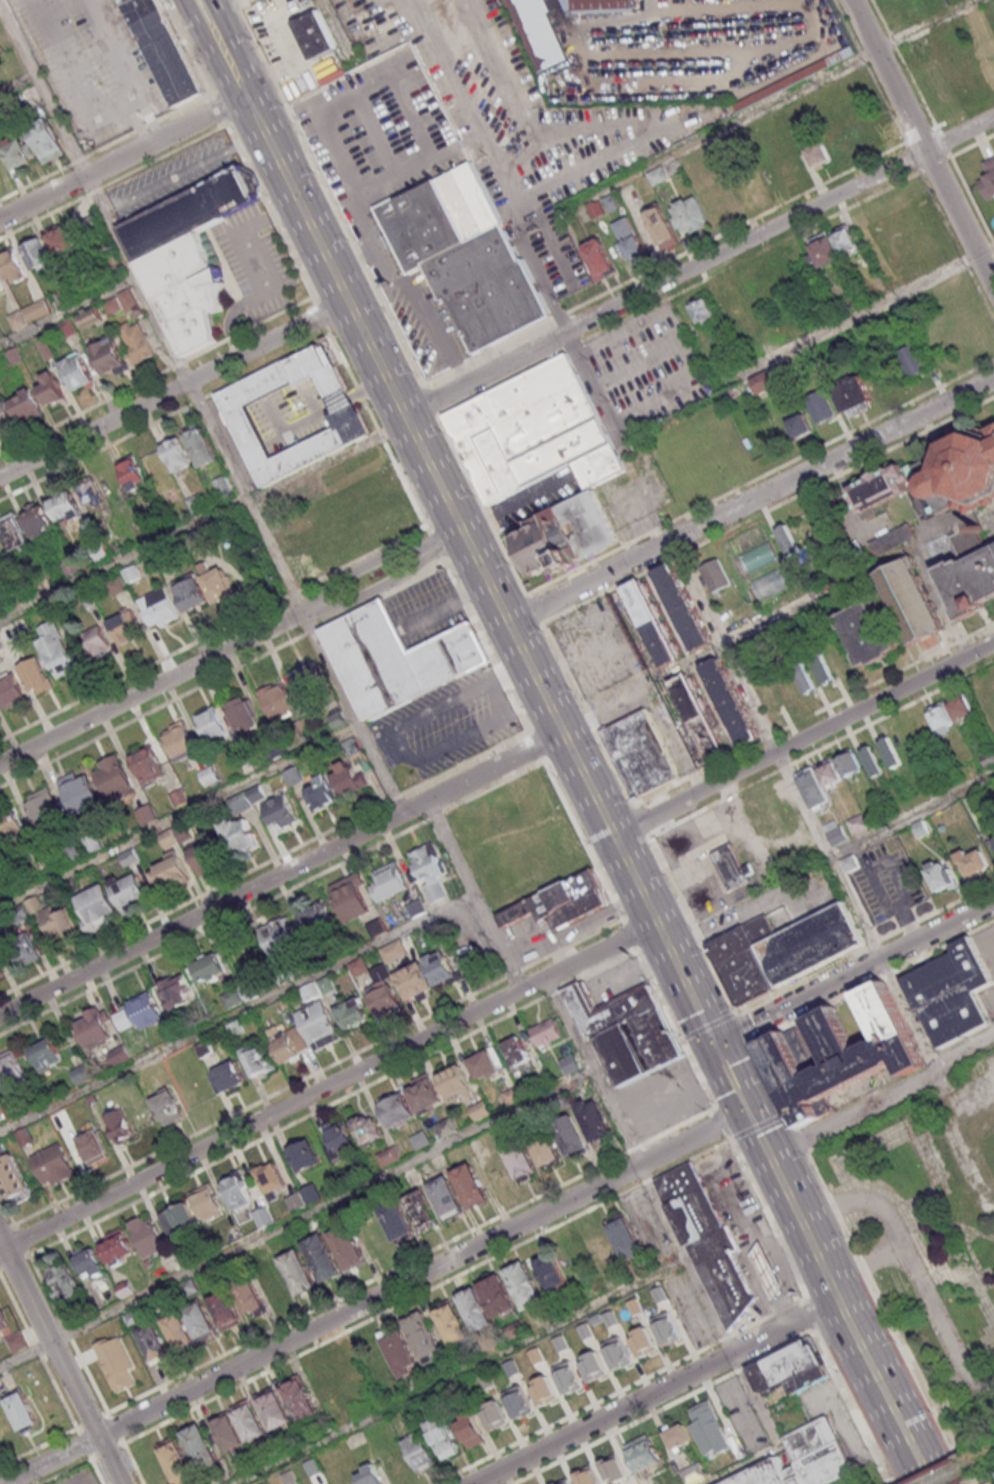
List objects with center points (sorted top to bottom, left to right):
building: (594, 5)
road: (223, 21)
road: (197, 27)
road: (336, 28)
building: (538, 32)
building: (314, 34)
building: (167, 58)
road: (235, 69)
road: (17, 82)
road: (771, 102)
road: (129, 114)
road: (165, 135)
building: (46, 141)
road: (921, 144)
building: (18, 151)
building: (819, 154)
road: (184, 172)
building: (657, 175)
building: (987, 178)
road: (41, 197)
road: (299, 198)
building: (190, 211)
building: (689, 215)
building: (662, 227)
building: (629, 237)
building: (61, 239)
building: (835, 245)
road: (120, 249)
building: (38, 254)
building: (466, 257)
building: (599, 258)
road: (700, 265)
building: (12, 266)
building: (1, 284)
building: (188, 290)
building: (128, 299)
road: (412, 299)
road: (877, 303)
road: (67, 309)
building: (703, 309)
building: (29, 313)
building: (137, 342)
road: (269, 342)
road: (379, 357)
building: (110, 358)
building: (911, 360)
building: (77, 373)
building: (765, 381)
building: (51, 388)
building: (854, 396)
building: (26, 405)
building: (820, 405)
building: (293, 413)
building: (6, 414)
building: (800, 425)
road: (94, 429)
building: (533, 433)
building: (200, 447)
building: (177, 454)
building: (132, 473)
building: (936, 475)
building: (221, 485)
building: (92, 495)
road: (237, 498)
road: (752, 498)
building: (195, 503)
building: (65, 507)
building: (37, 518)
building: (14, 532)
building: (568, 535)
road: (450, 538)
building: (788, 538)
building: (891, 539)
road: (370, 564)
road: (871, 572)
building: (970, 573)
building: (715, 575)
building: (770, 582)
building: (115, 585)
building: (218, 585)
road: (381, 587)
building: (190, 592)
building: (909, 600)
building: (682, 606)
building: (158, 607)
building: (650, 623)
building: (123, 625)
building: (867, 633)
building: (96, 641)
building: (0, 647)
building: (58, 652)
building: (396, 658)
road: (532, 667)
building: (823, 668)
road: (508, 671)
building: (35, 676)
building: (805, 677)
building: (310, 681)
road: (158, 685)
building: (11, 690)
building: (276, 699)
building: (730, 701)
building: (951, 712)
building: (242, 713)
building: (337, 718)
building: (699, 718)
building: (211, 722)
road: (805, 738)
building: (180, 740)
road: (533, 740)
road: (602, 742)
building: (352, 746)
building: (891, 751)
building: (639, 753)
road: (404, 755)
building: (873, 761)
building: (850, 763)
building: (147, 765)
building: (209, 775)
building: (293, 775)
building: (114, 778)
building: (348, 778)
building: (819, 782)
road: (222, 791)
building: (80, 792)
building: (320, 792)
road: (804, 804)
building: (43, 808)
building: (280, 812)
building: (147, 813)
road: (912, 815)
building: (857, 823)
building: (12, 827)
building: (238, 835)
building: (993, 842)
road: (451, 849)
building: (204, 857)
building: (972, 862)
building: (732, 867)
road: (282, 872)
building: (429, 872)
building: (168, 873)
building: (940, 876)
building: (389, 882)
building: (128, 888)
building: (350, 898)
building: (558, 902)
building: (96, 907)
building: (315, 917)
building: (58, 922)
building: (278, 936)
building: (26, 946)
building: (786, 957)
building: (208, 967)
road: (854, 971)
building: (428, 975)
road: (687, 981)
building: (176, 989)
building: (252, 990)
road: (283, 992)
building: (383, 996)
building: (951, 996)
building: (231, 997)
building: (146, 1009)
building: (353, 1012)
building: (318, 1024)
building: (94, 1028)
building: (625, 1030)
building: (546, 1033)
traffic signals: (716, 1042)
building: (290, 1044)
building: (841, 1052)
building: (46, 1053)
building: (516, 1053)
building: (257, 1058)
building: (570, 1064)
building: (484, 1065)
building: (11, 1072)
building: (228, 1076)
road: (733, 1076)
building: (456, 1082)
road: (329, 1085)
building: (424, 1092)
road: (974, 1096)
road: (887, 1102)
building: (166, 1106)
building: (397, 1109)
traffic signals: (750, 1110)
road: (617, 1116)
building: (595, 1121)
building: (119, 1125)
building: (447, 1126)
building: (367, 1127)
building: (570, 1133)
road: (761, 1133)
road: (955, 1138)
building: (990, 1139)
building: (339, 1140)
building: (92, 1147)
building: (546, 1149)
building: (304, 1155)
building: (520, 1159)
building: (52, 1164)
road: (842, 1169)
building: (270, 1177)
building: (14, 1179)
building: (471, 1186)
building: (238, 1191)
road: (921, 1196)
building: (447, 1198)
road: (794, 1201)
building: (208, 1202)
building: (421, 1209)
building: (263, 1216)
road: (297, 1218)
building: (180, 1219)
building: (397, 1221)
building: (147, 1235)
building: (625, 1237)
building: (710, 1242)
building: (116, 1246)
building: (347, 1247)
building: (598, 1250)
road: (967, 1253)
building: (322, 1257)
building: (89, 1261)
road: (867, 1263)
road: (913, 1265)
building: (298, 1271)
building: (551, 1271)
building: (770, 1272)
building: (62, 1279)
road: (985, 1279)
building: (272, 1280)
building: (525, 1285)
road: (837, 1293)
building: (249, 1296)
building: (497, 1296)
road: (376, 1297)
building: (225, 1309)
building: (475, 1309)
building: (201, 1321)
building: (3, 1323)
building: (452, 1324)
building: (666, 1329)
building: (179, 1330)
building: (17, 1341)
building: (153, 1341)
building: (643, 1342)
building: (411, 1344)
road: (506, 1347)
road: (987, 1347)
road: (60, 1362)
building: (116, 1362)
building: (785, 1365)
building: (806, 1379)
road: (656, 1391)
building: (300, 1398)
building: (274, 1407)
building: (22, 1411)
road: (895, 1412)
building: (239, 1427)
building: (708, 1429)
building: (469, 1430)
building: (442, 1436)
road: (775, 1436)
building: (200, 1447)
building: (419, 1450)
building: (816, 1452)
building: (176, 1462)
building: (786, 1465)
building: (369, 1474)
building: (764, 1475)
building: (985, 1483)

